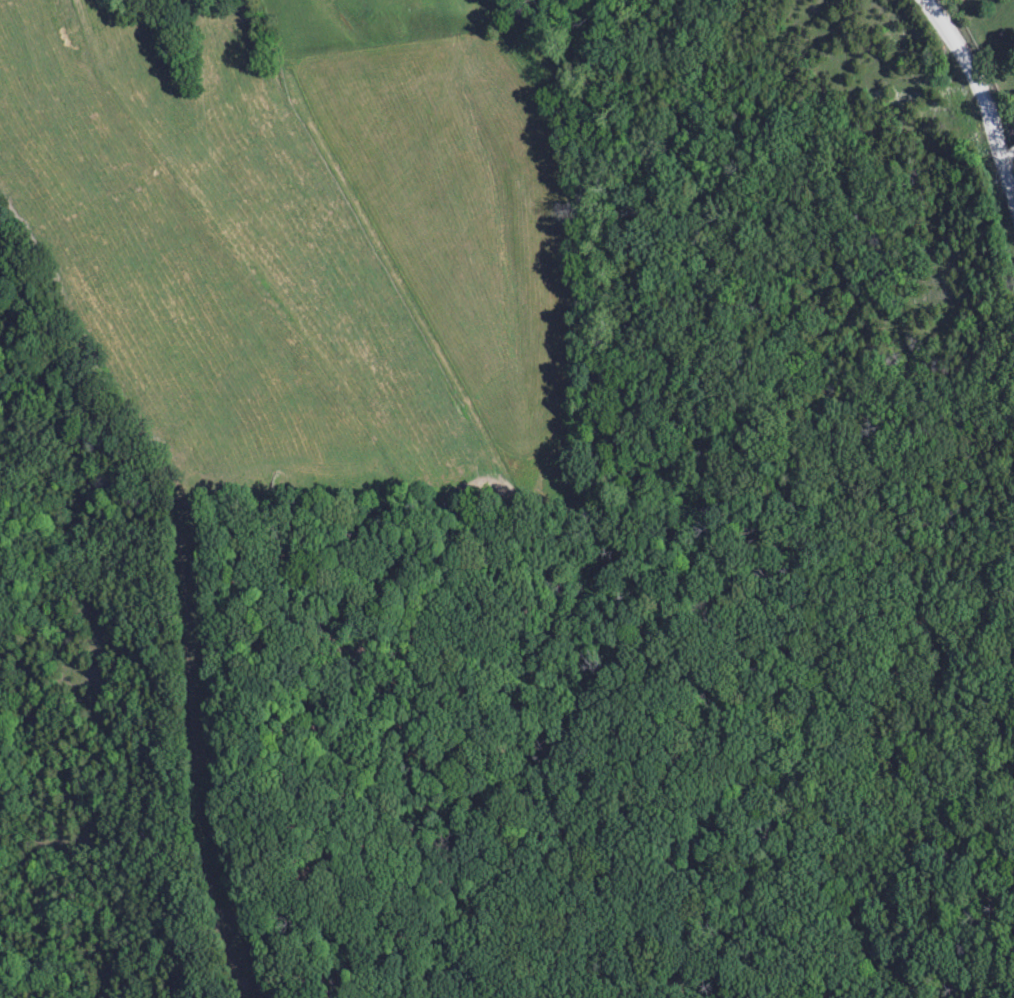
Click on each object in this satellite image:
road: (981, 85)

